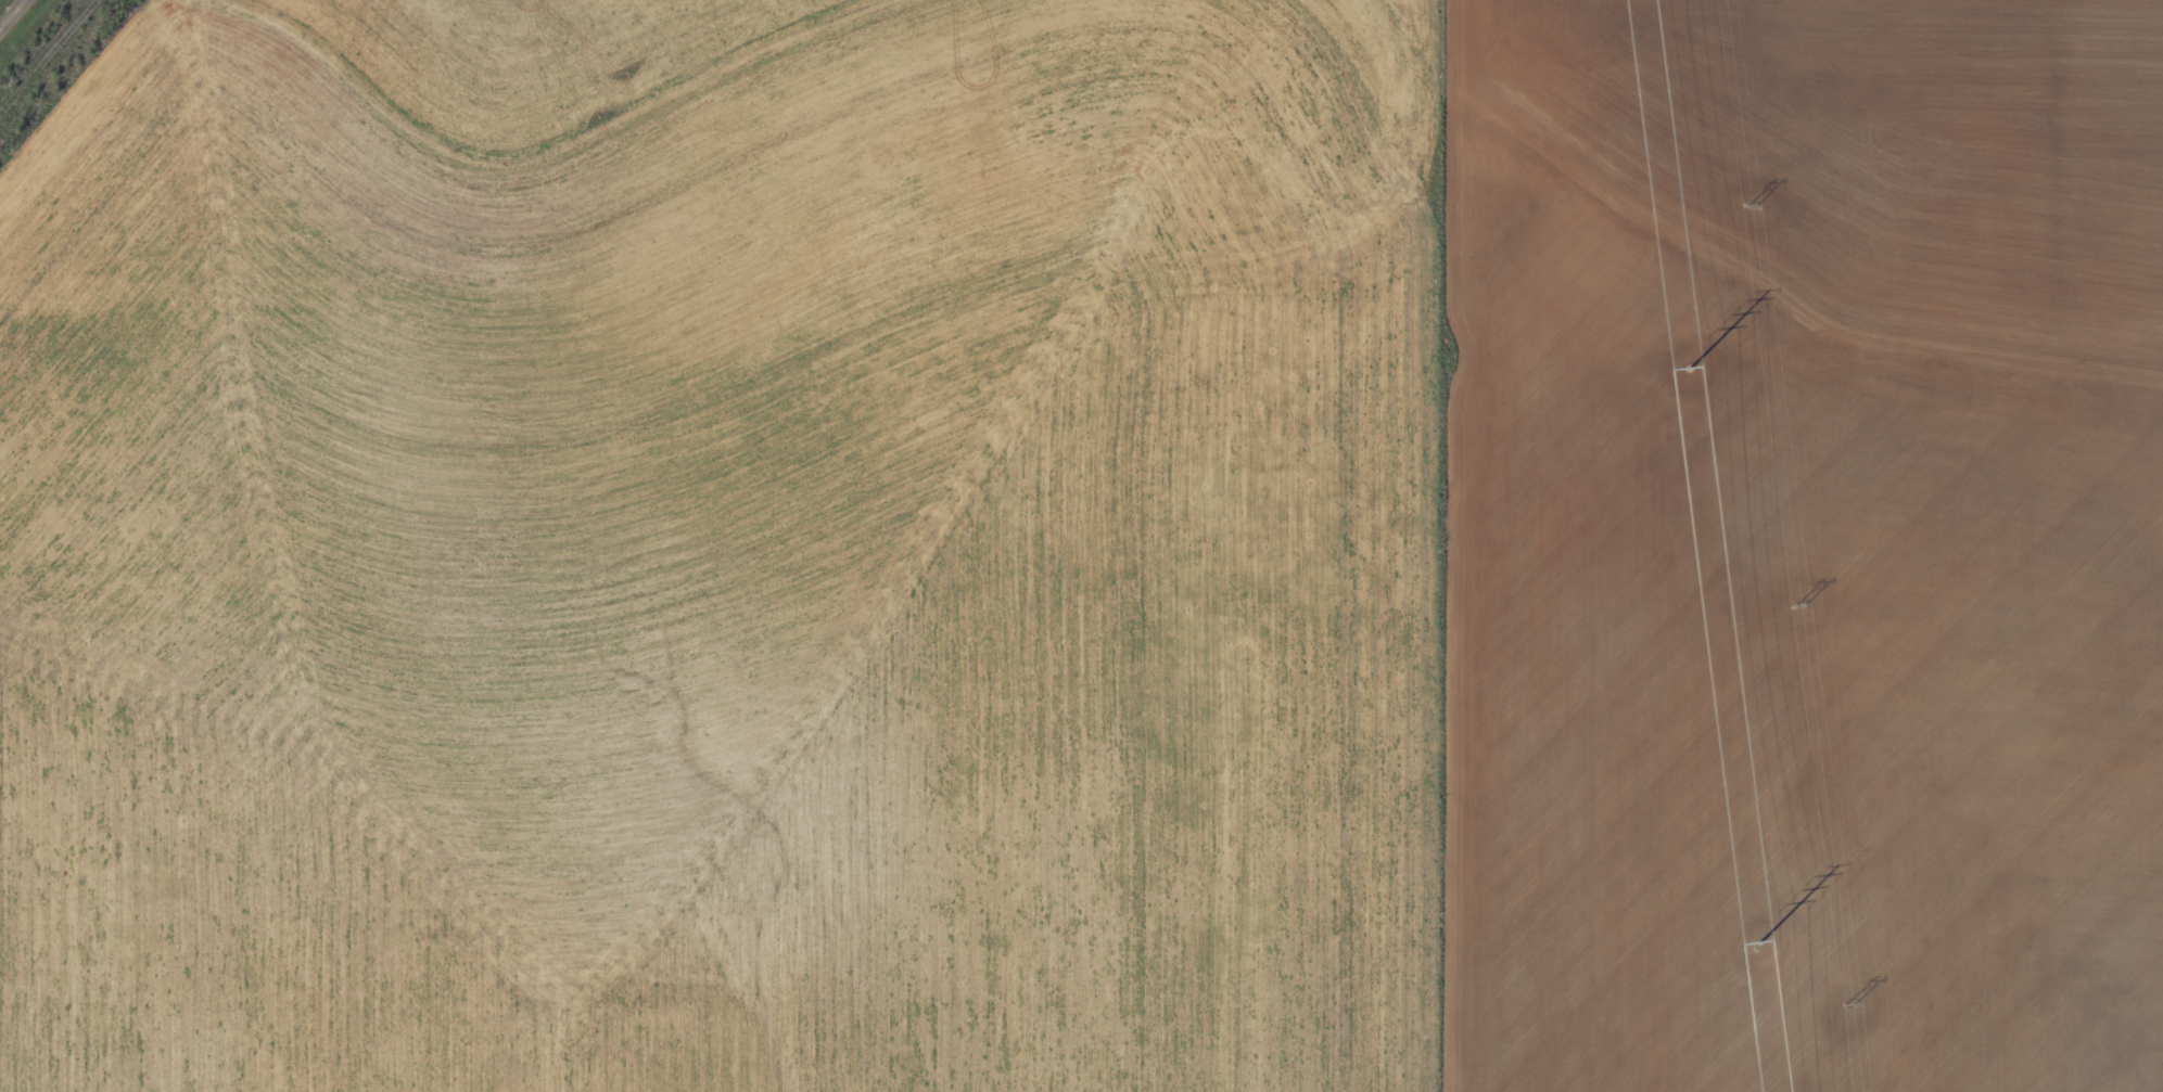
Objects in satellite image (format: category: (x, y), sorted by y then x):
road: (20, 23)
railway: (47, 53)
power tower: (1752, 205)
power tower: (1690, 368)
power tower: (1801, 603)
power tower: (1760, 941)
power tower: (1850, 1002)

